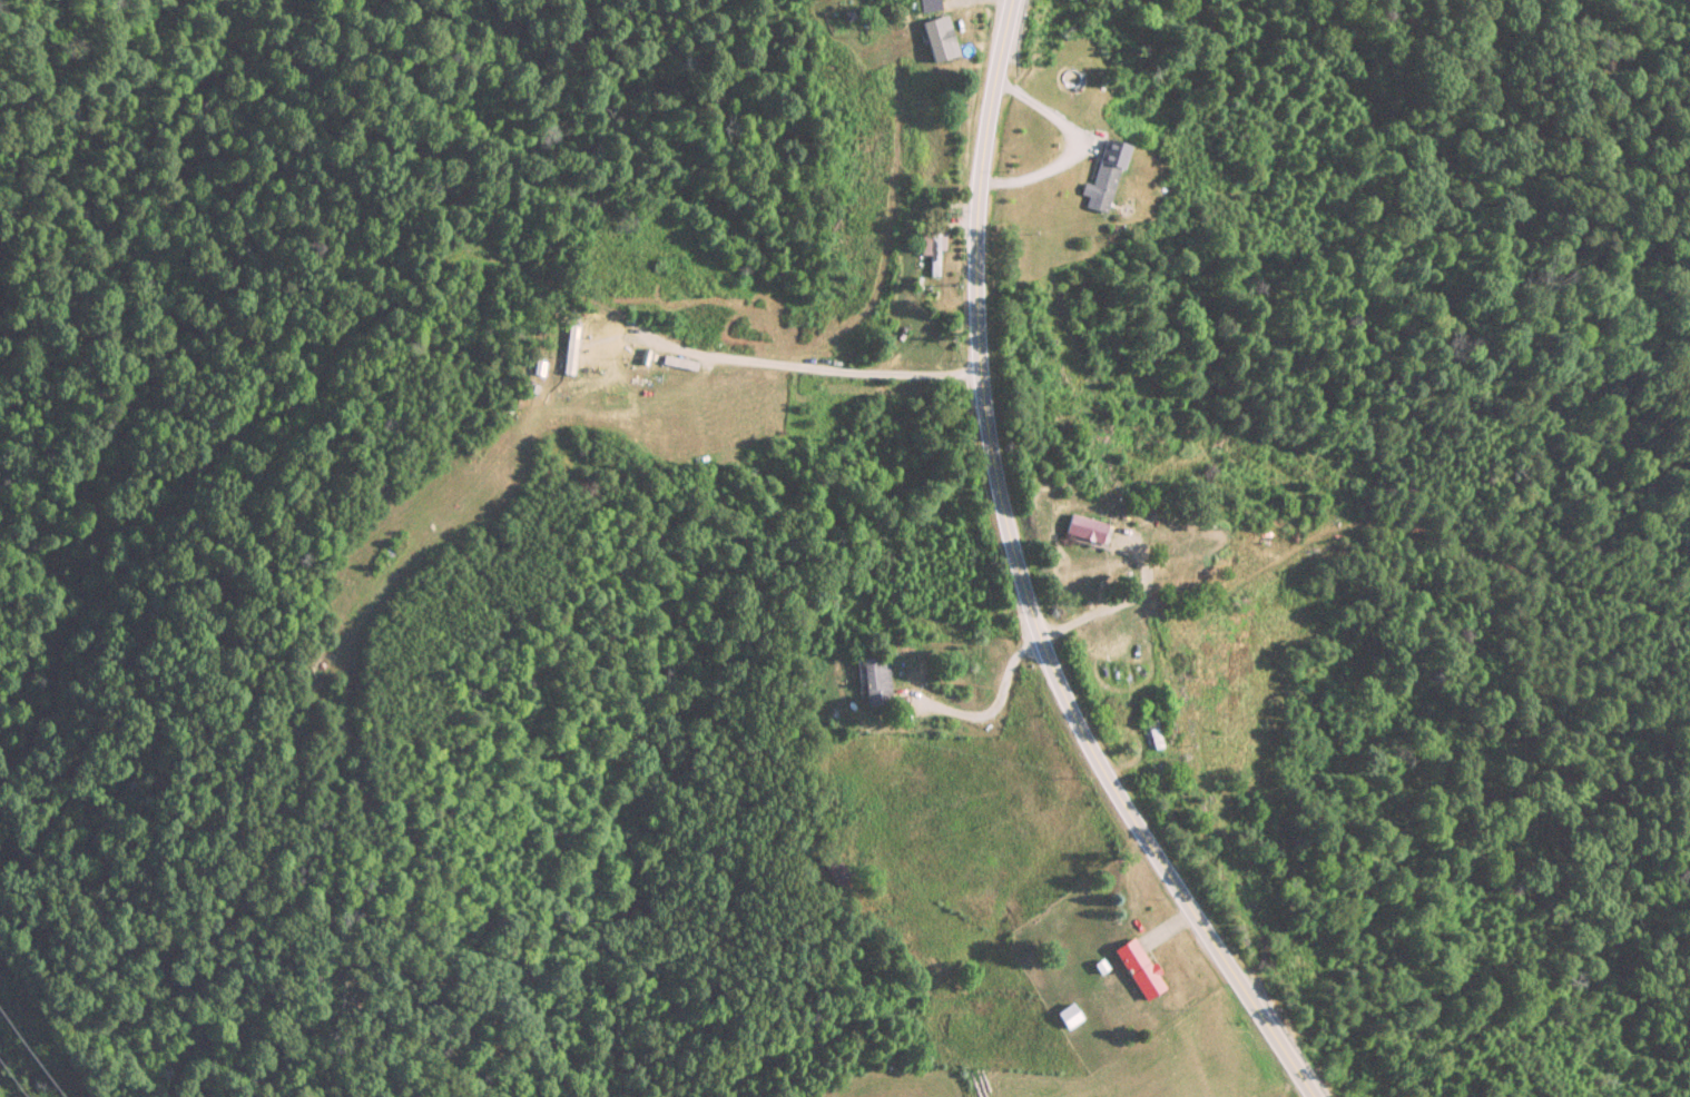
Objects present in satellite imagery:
building: (942, 39)
building: (1107, 176)
building: (933, 251)
building: (1089, 530)
road: (1021, 584)
building: (876, 680)
building: (1152, 728)
building: (836, 870)
building: (1141, 970)
building: (1070, 1017)

